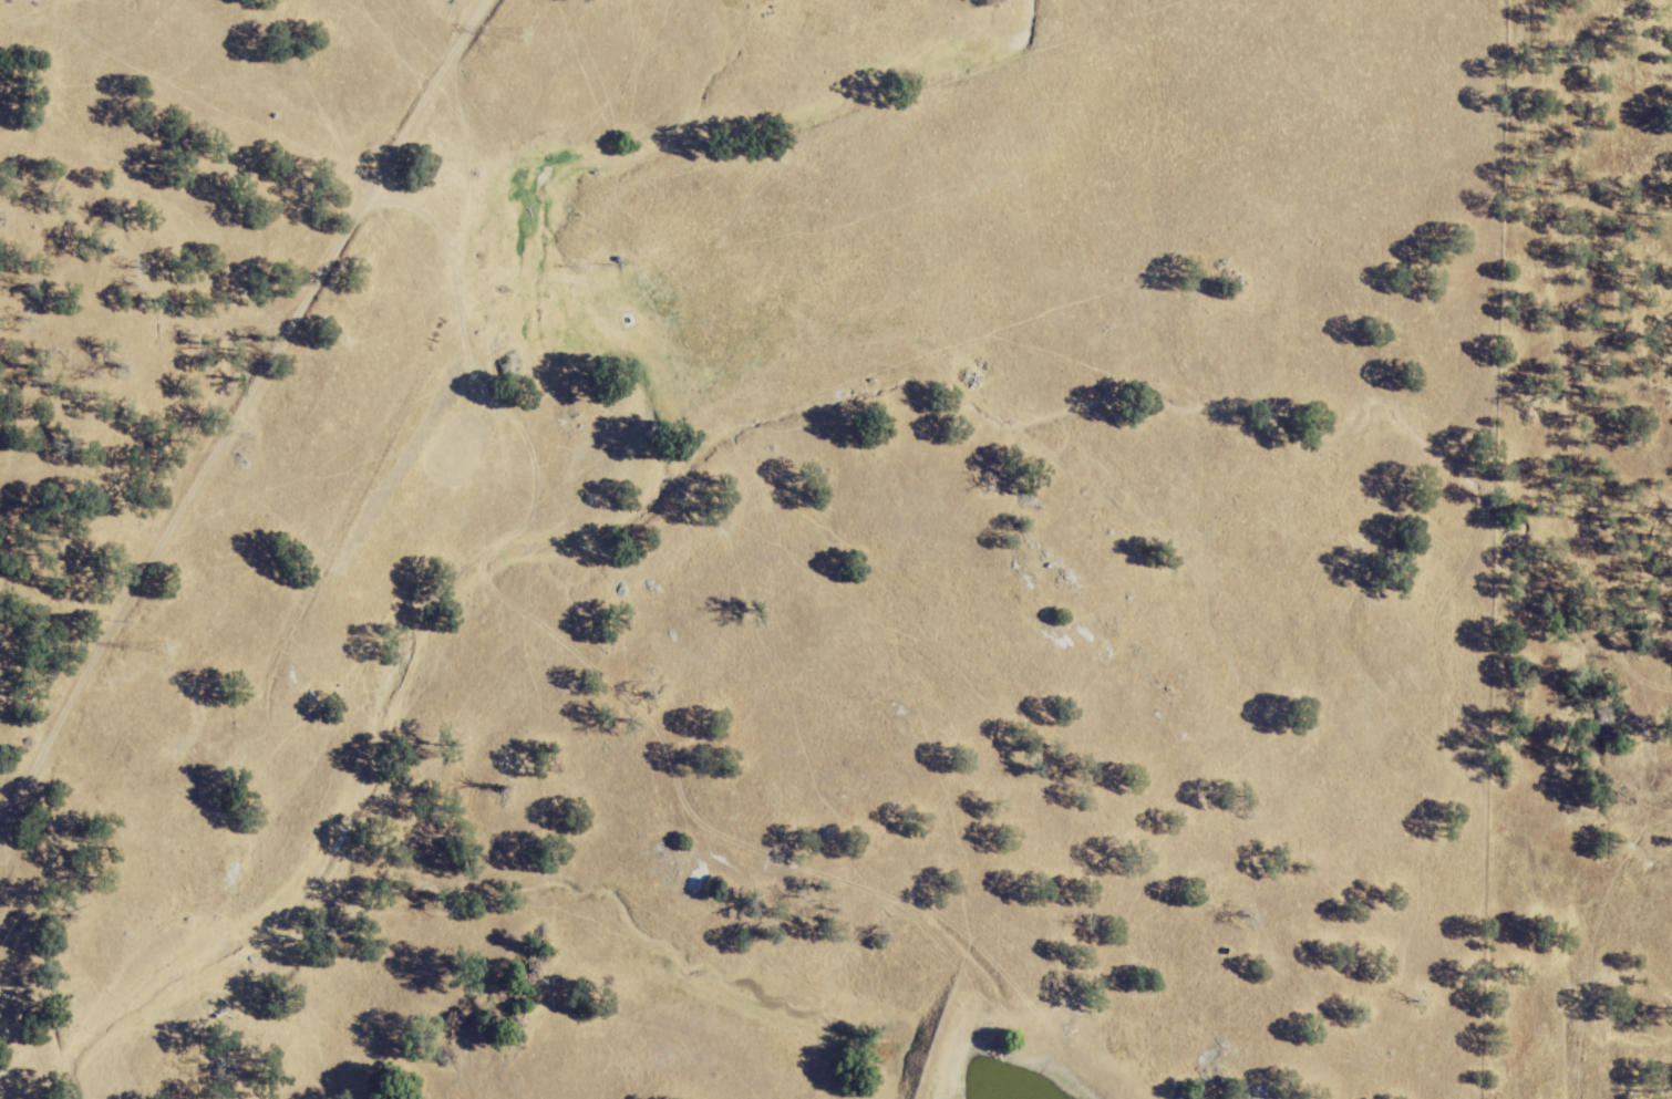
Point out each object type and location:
power tower: (527, 34)
power tower: (174, 646)

